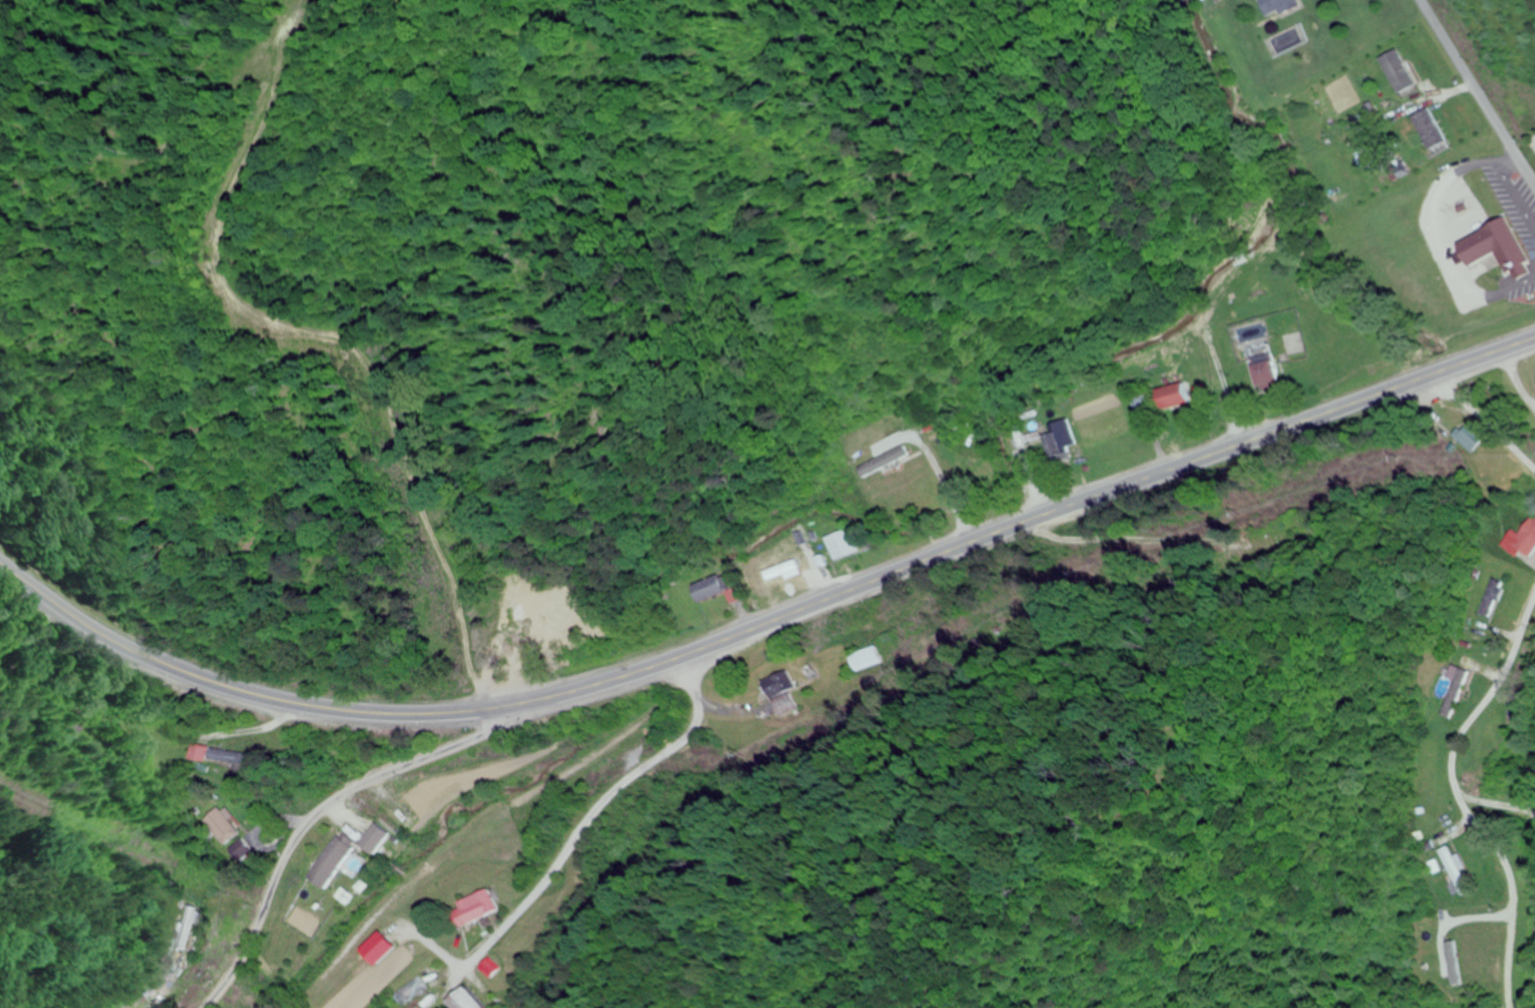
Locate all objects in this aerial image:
building: (1278, 7)
building: (1396, 71)
road: (1475, 94)
building: (1427, 132)
building: (1502, 257)
building: (1264, 371)
building: (1173, 396)
road: (1487, 420)
building: (958, 427)
building: (1052, 445)
building: (886, 457)
building: (1521, 541)
building: (840, 545)
building: (708, 590)
building: (1490, 598)
road: (767, 620)
building: (522, 628)
building: (865, 659)
building: (777, 685)
building: (1447, 692)
building: (782, 706)
road: (1046, 753)
building: (223, 756)
road: (345, 795)
road: (1460, 799)
building: (222, 825)
building: (241, 851)
road: (587, 852)
building: (331, 861)
building: (1455, 870)
building: (472, 908)
building: (186, 928)
building: (463, 1000)

